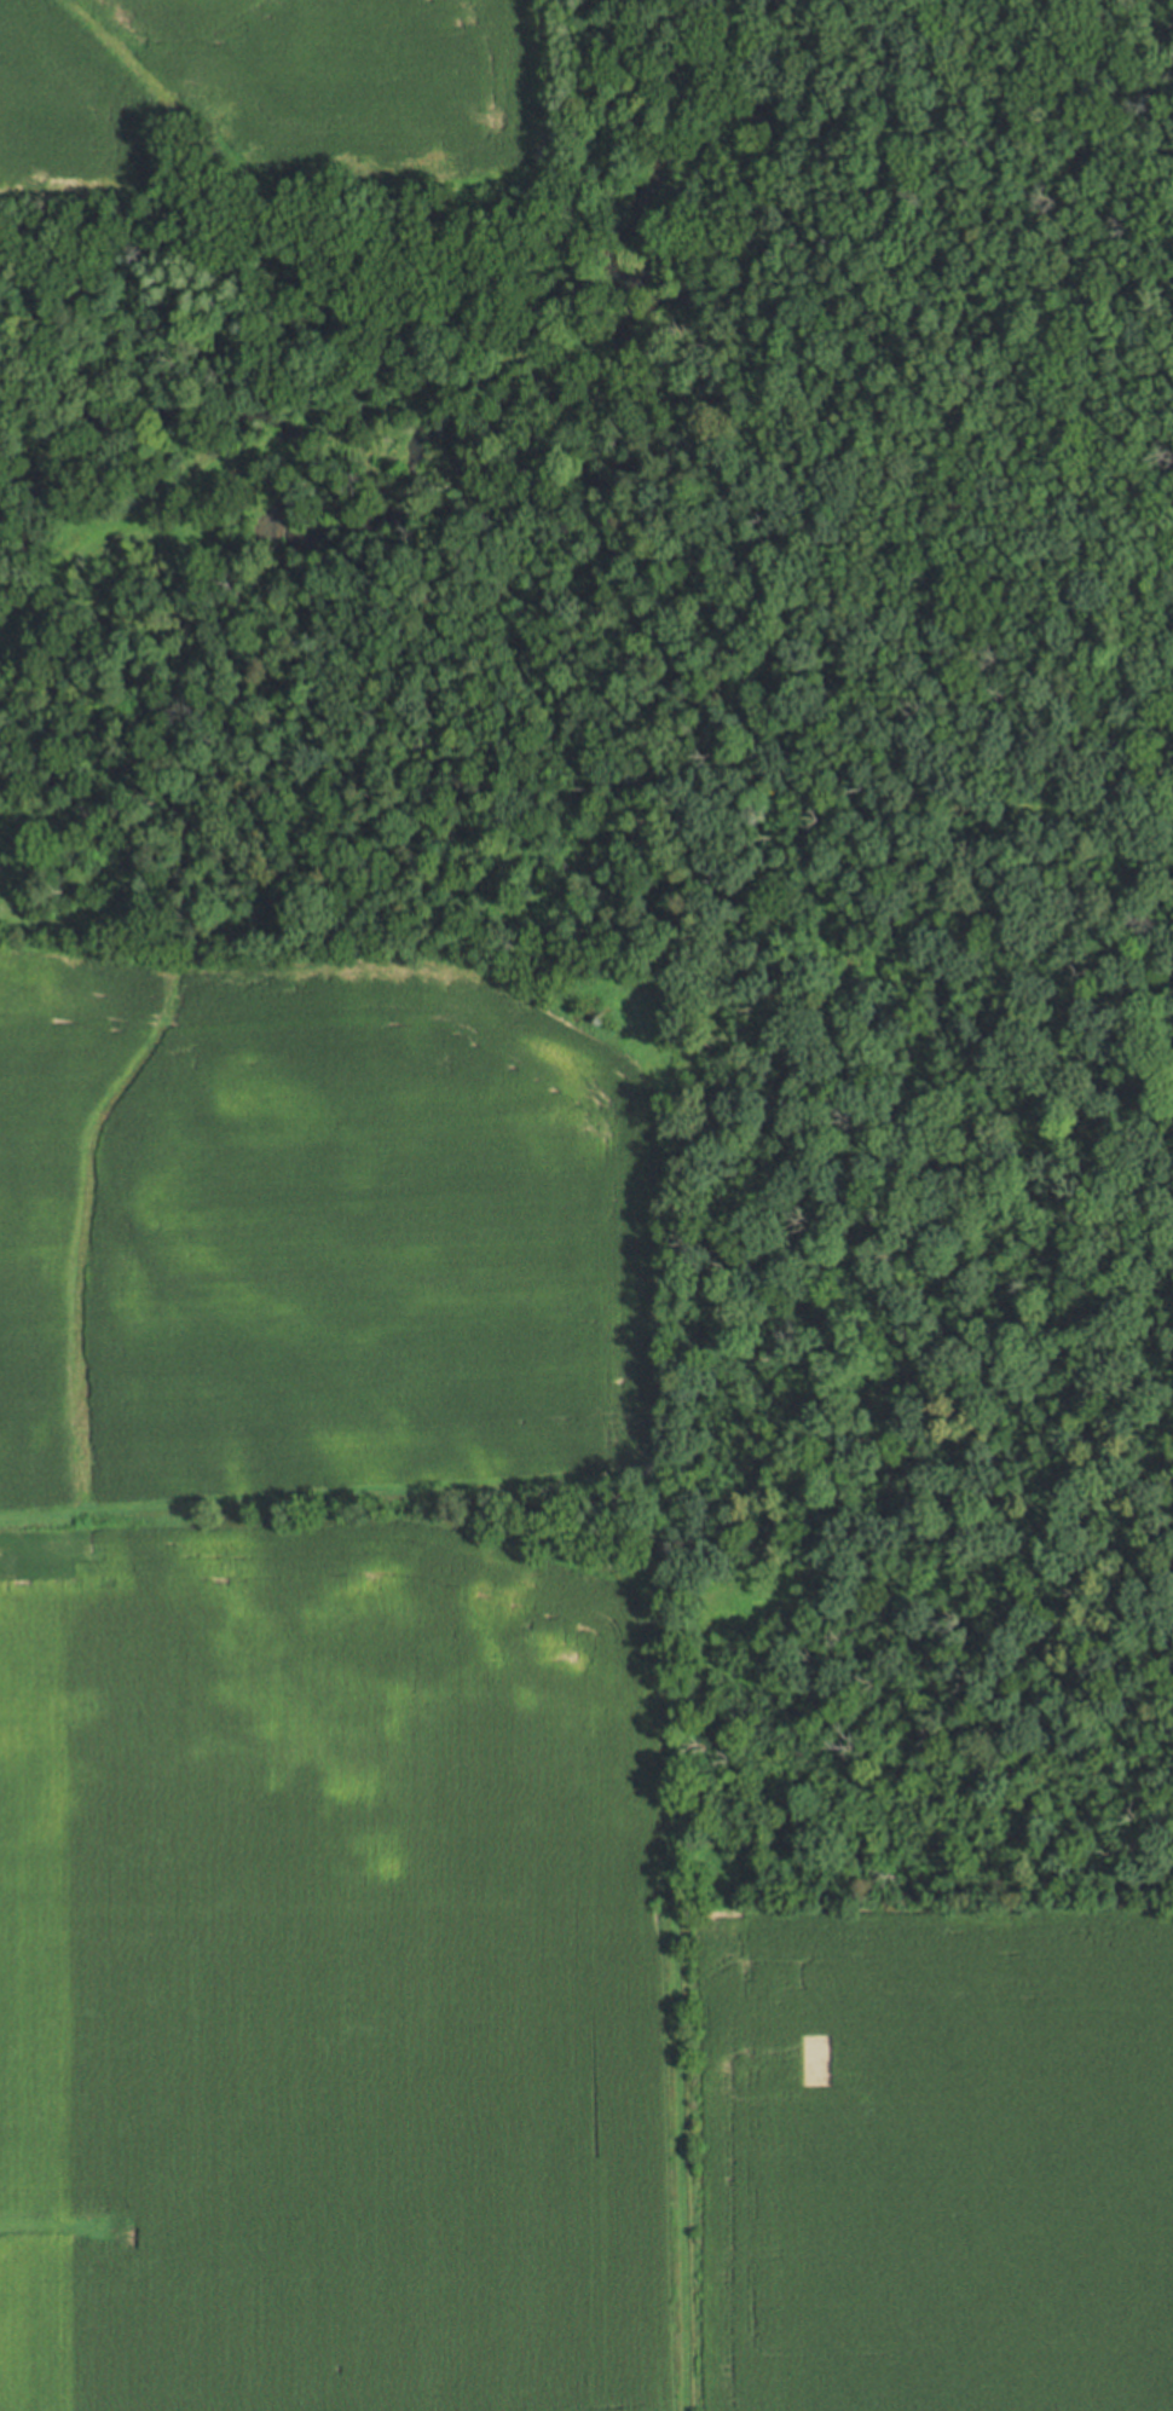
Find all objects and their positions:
road: (677, 1949)

